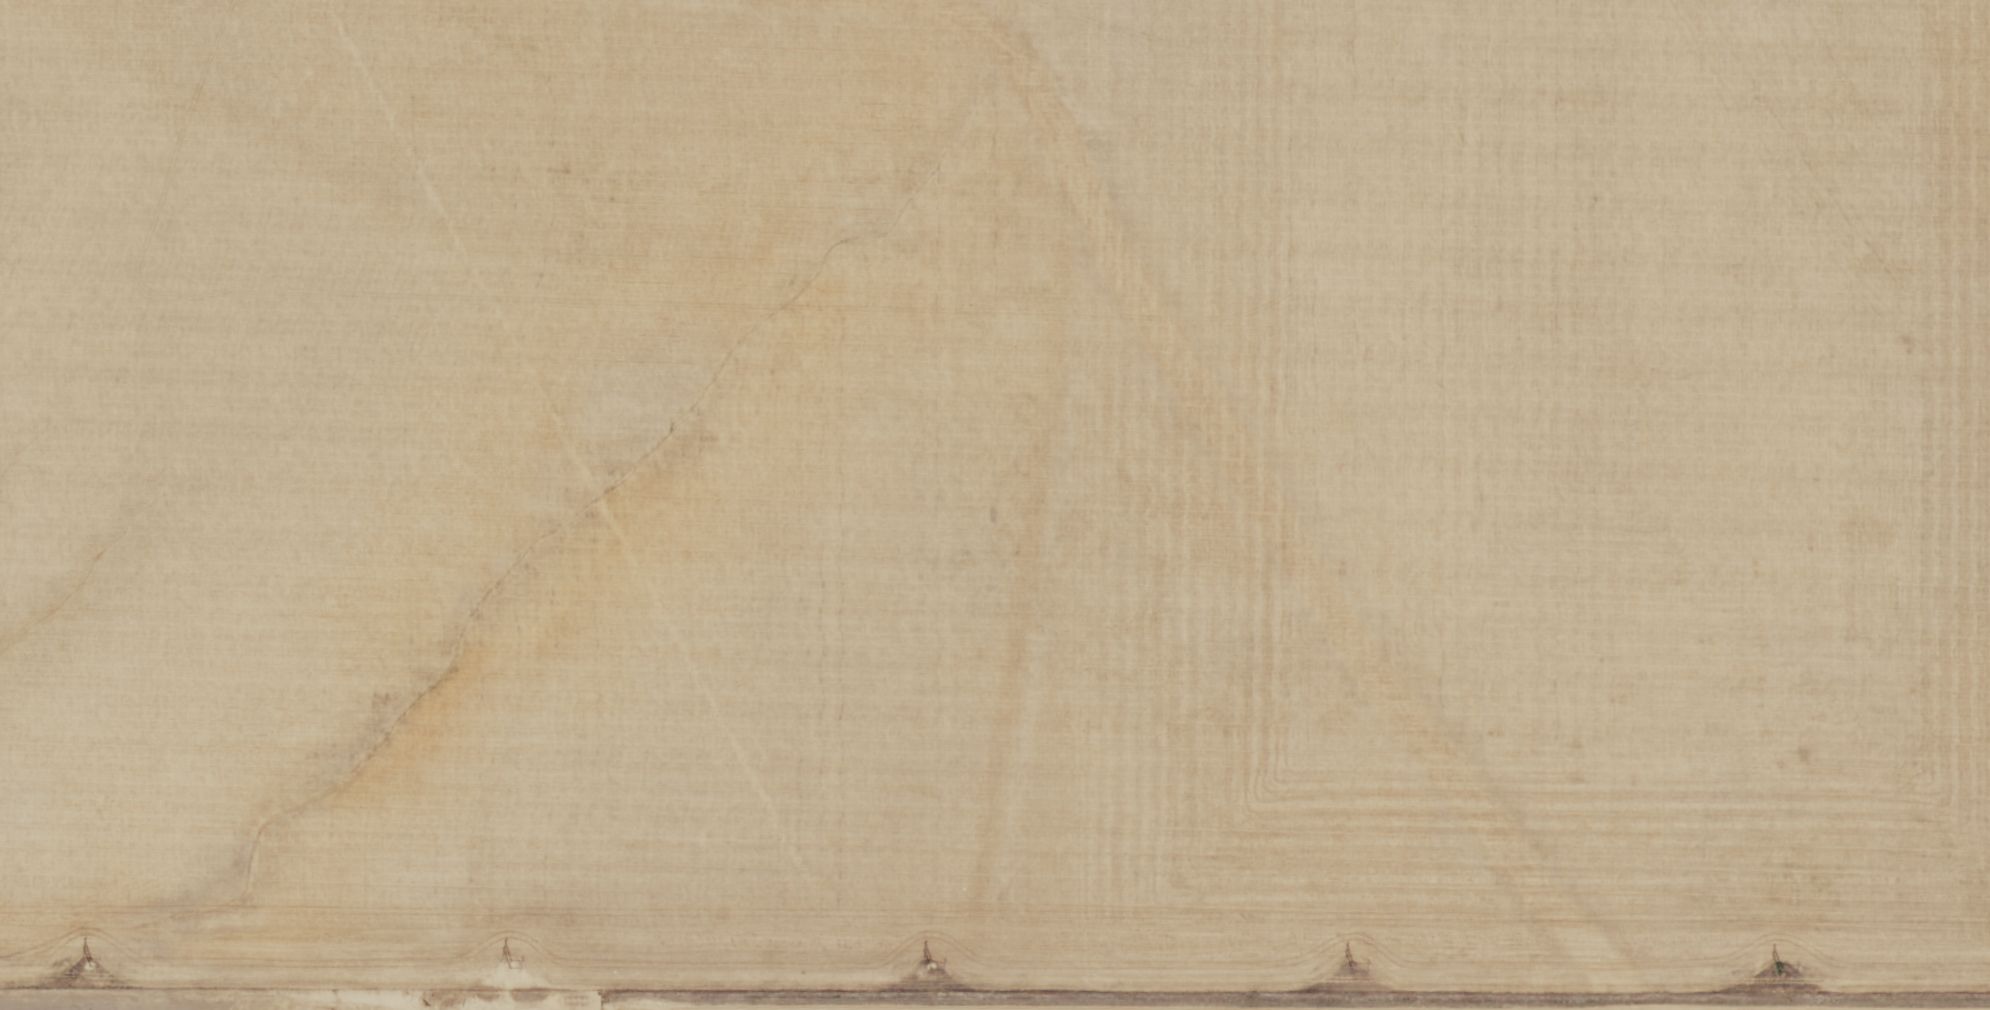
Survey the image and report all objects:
power tower: (90, 962)
power tower: (510, 965)
power tower: (930, 966)
power tower: (1352, 968)
power tower: (1781, 969)

